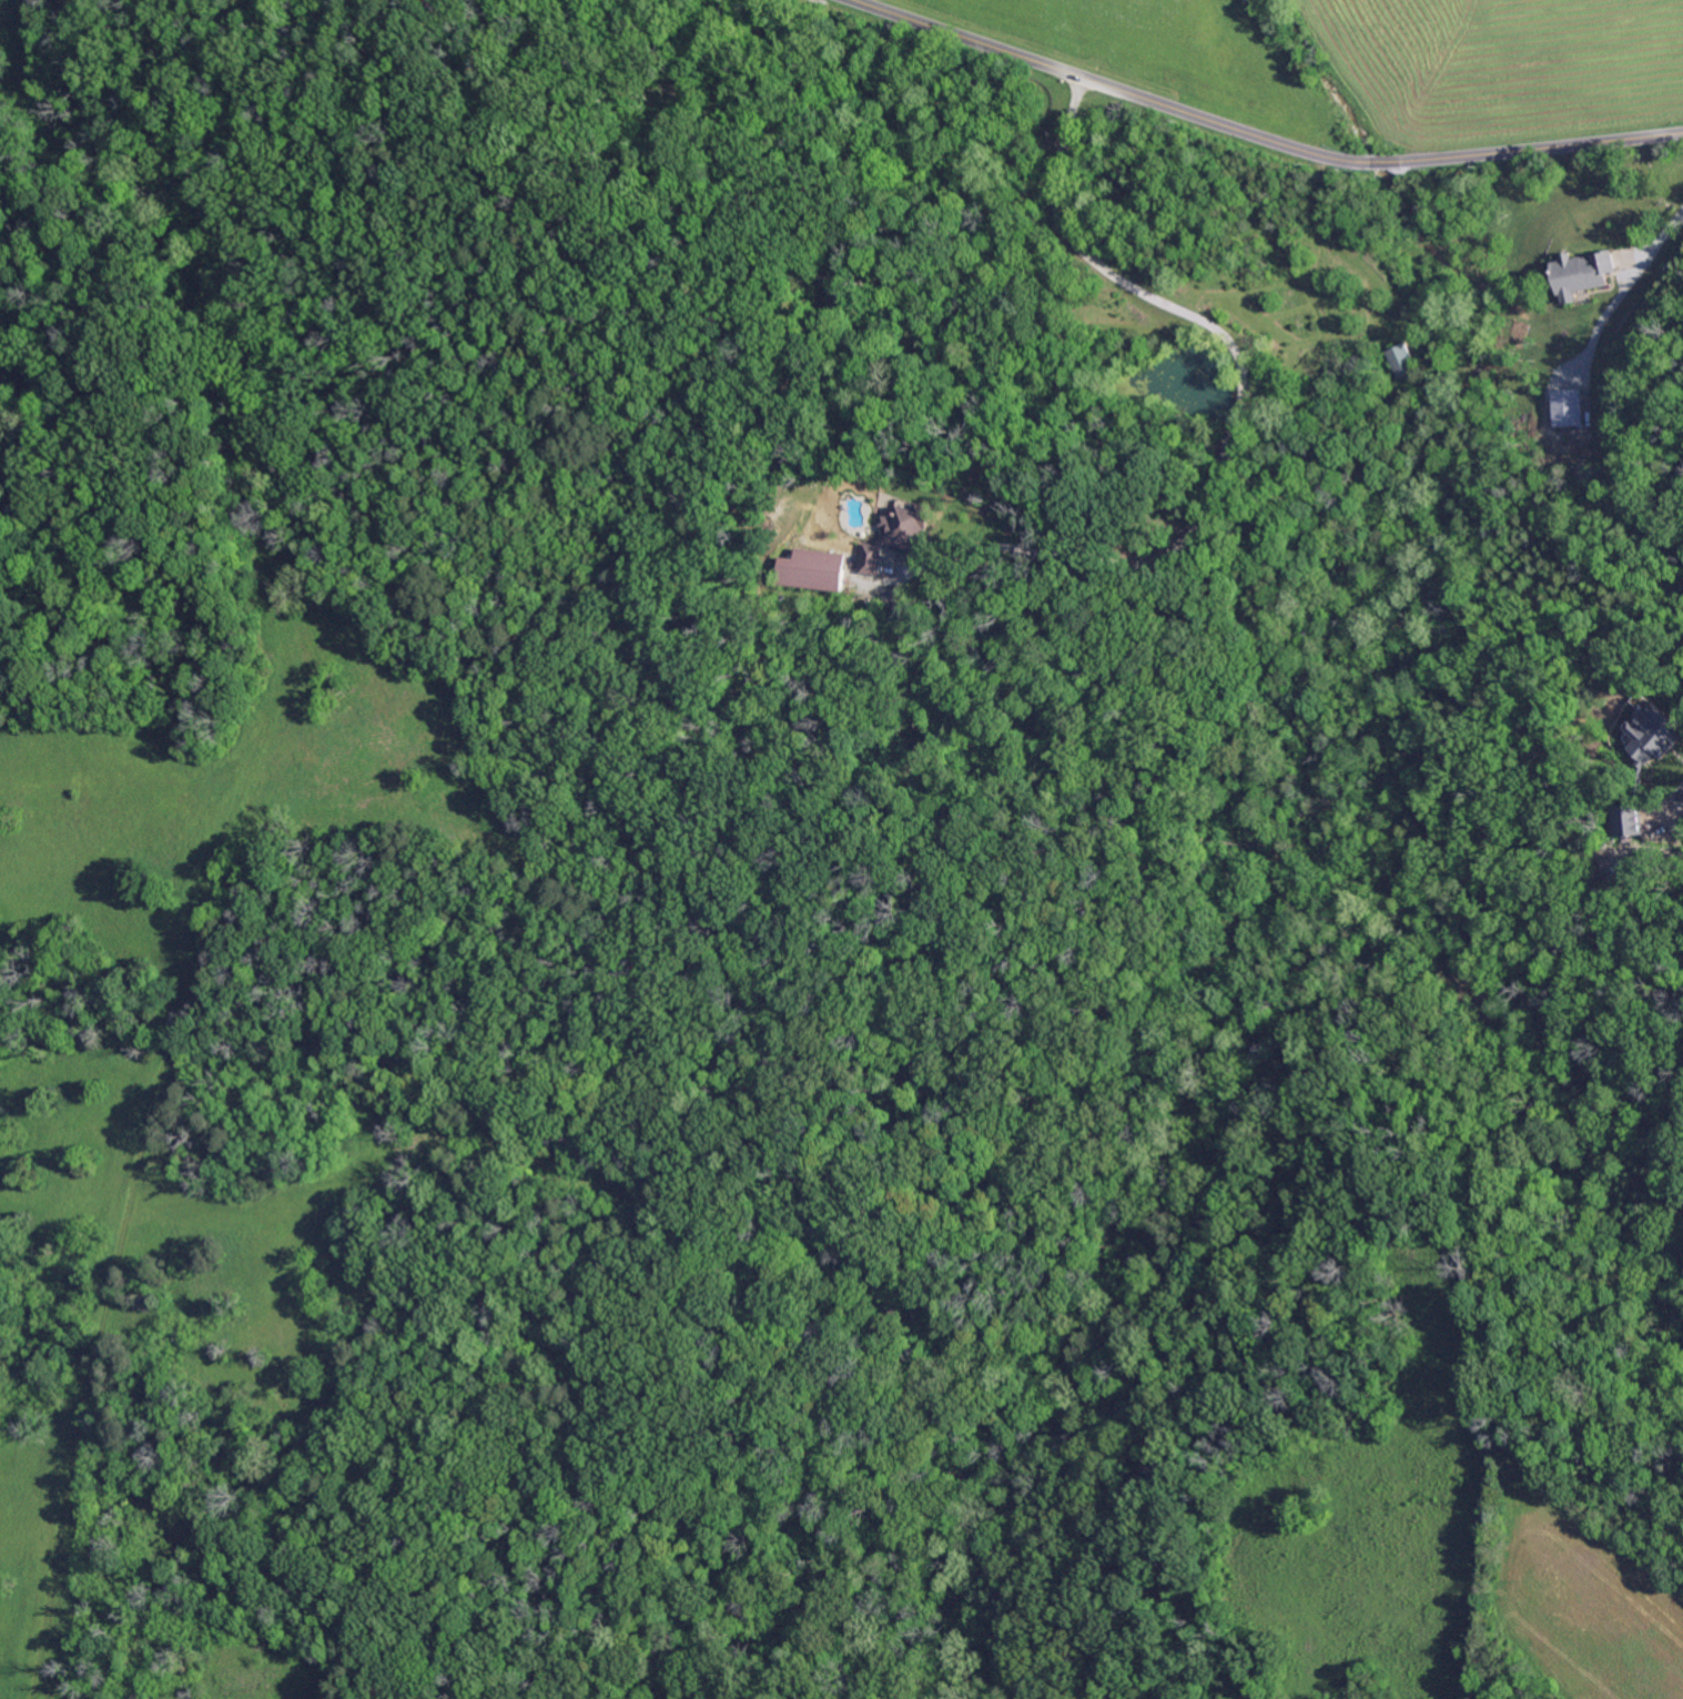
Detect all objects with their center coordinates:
road: (1258, 135)
road: (1659, 240)
building: (1579, 275)
road: (1600, 322)
building: (1405, 361)
building: (1567, 407)
road: (1243, 412)
building: (901, 537)
building: (814, 572)
building: (1657, 735)
building: (1631, 821)

